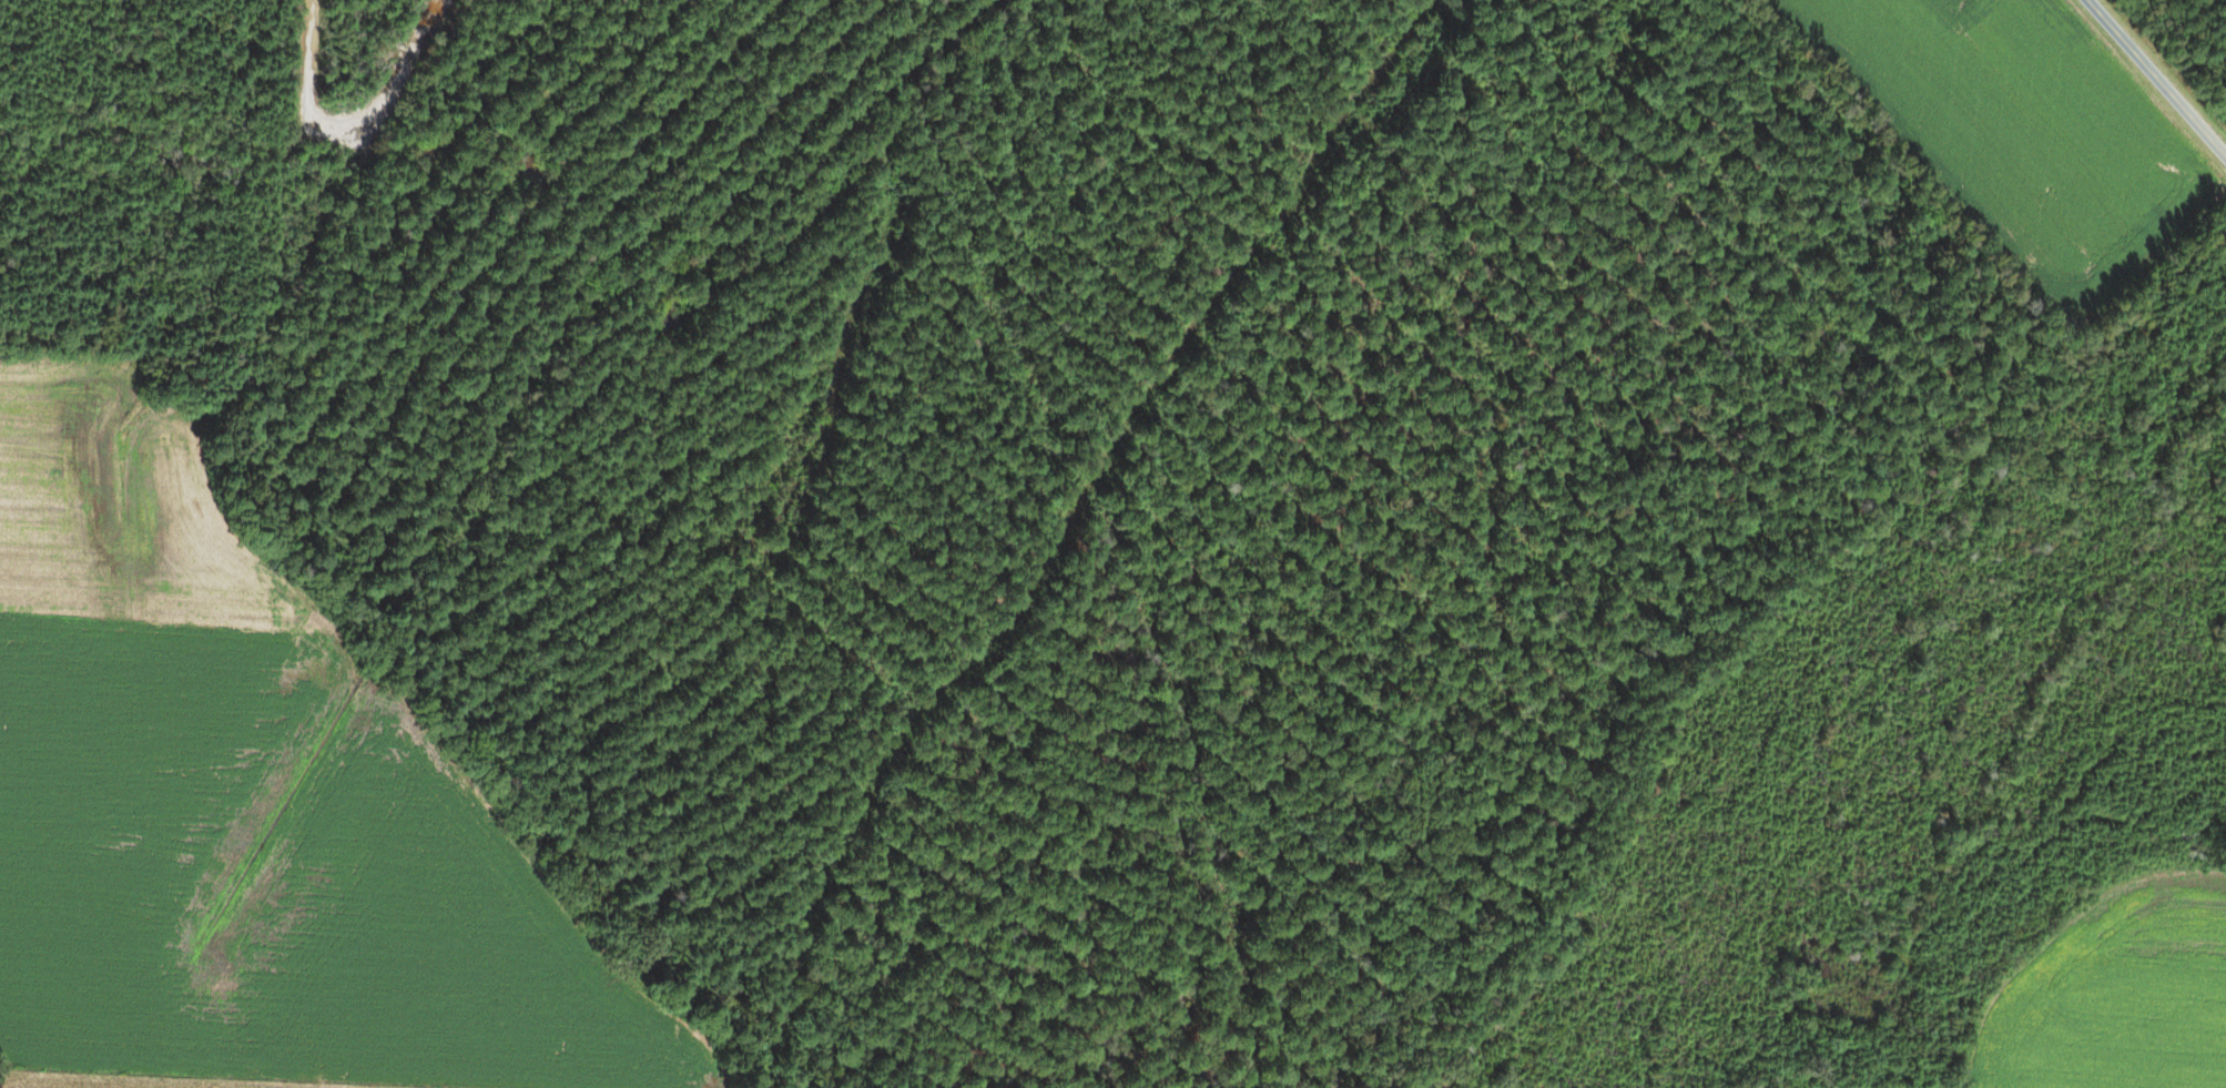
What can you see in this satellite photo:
road: (2155, 79)

